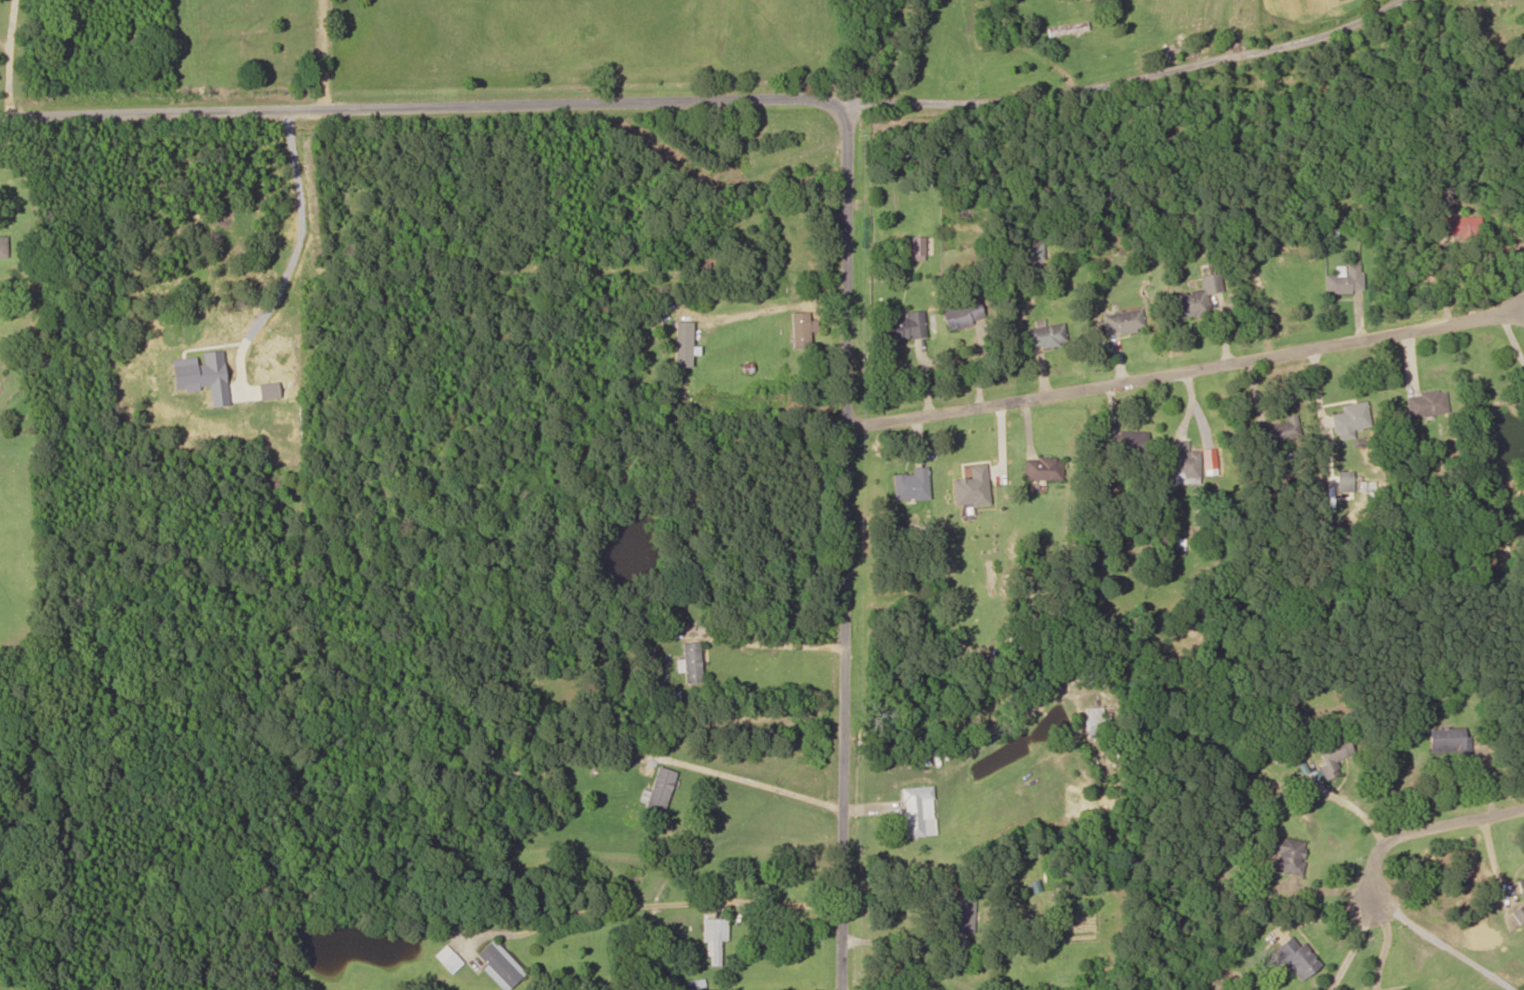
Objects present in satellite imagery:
building: (1066, 29)
road: (1125, 74)
road: (424, 95)
building: (1459, 224)
building: (3, 246)
building: (1032, 250)
building: (699, 264)
building: (1344, 279)
building: (1197, 295)
building: (961, 314)
building: (1122, 320)
building: (901, 326)
building: (804, 331)
building: (1046, 334)
building: (679, 349)
road: (1183, 367)
building: (1426, 403)
building: (1349, 419)
building: (1278, 430)
building: (1129, 440)
building: (1184, 459)
building: (1043, 467)
building: (911, 483)
road: (845, 541)
road: (772, 637)
building: (690, 661)
building: (1093, 723)
building: (1448, 740)
building: (1332, 753)
road: (763, 780)
building: (658, 791)
building: (916, 809)
road: (1427, 831)
building: (1285, 853)
building: (1520, 887)
road: (681, 896)
building: (962, 910)
building: (1519, 914)
building: (713, 938)
building: (1294, 957)
building: (447, 958)
building: (499, 965)

